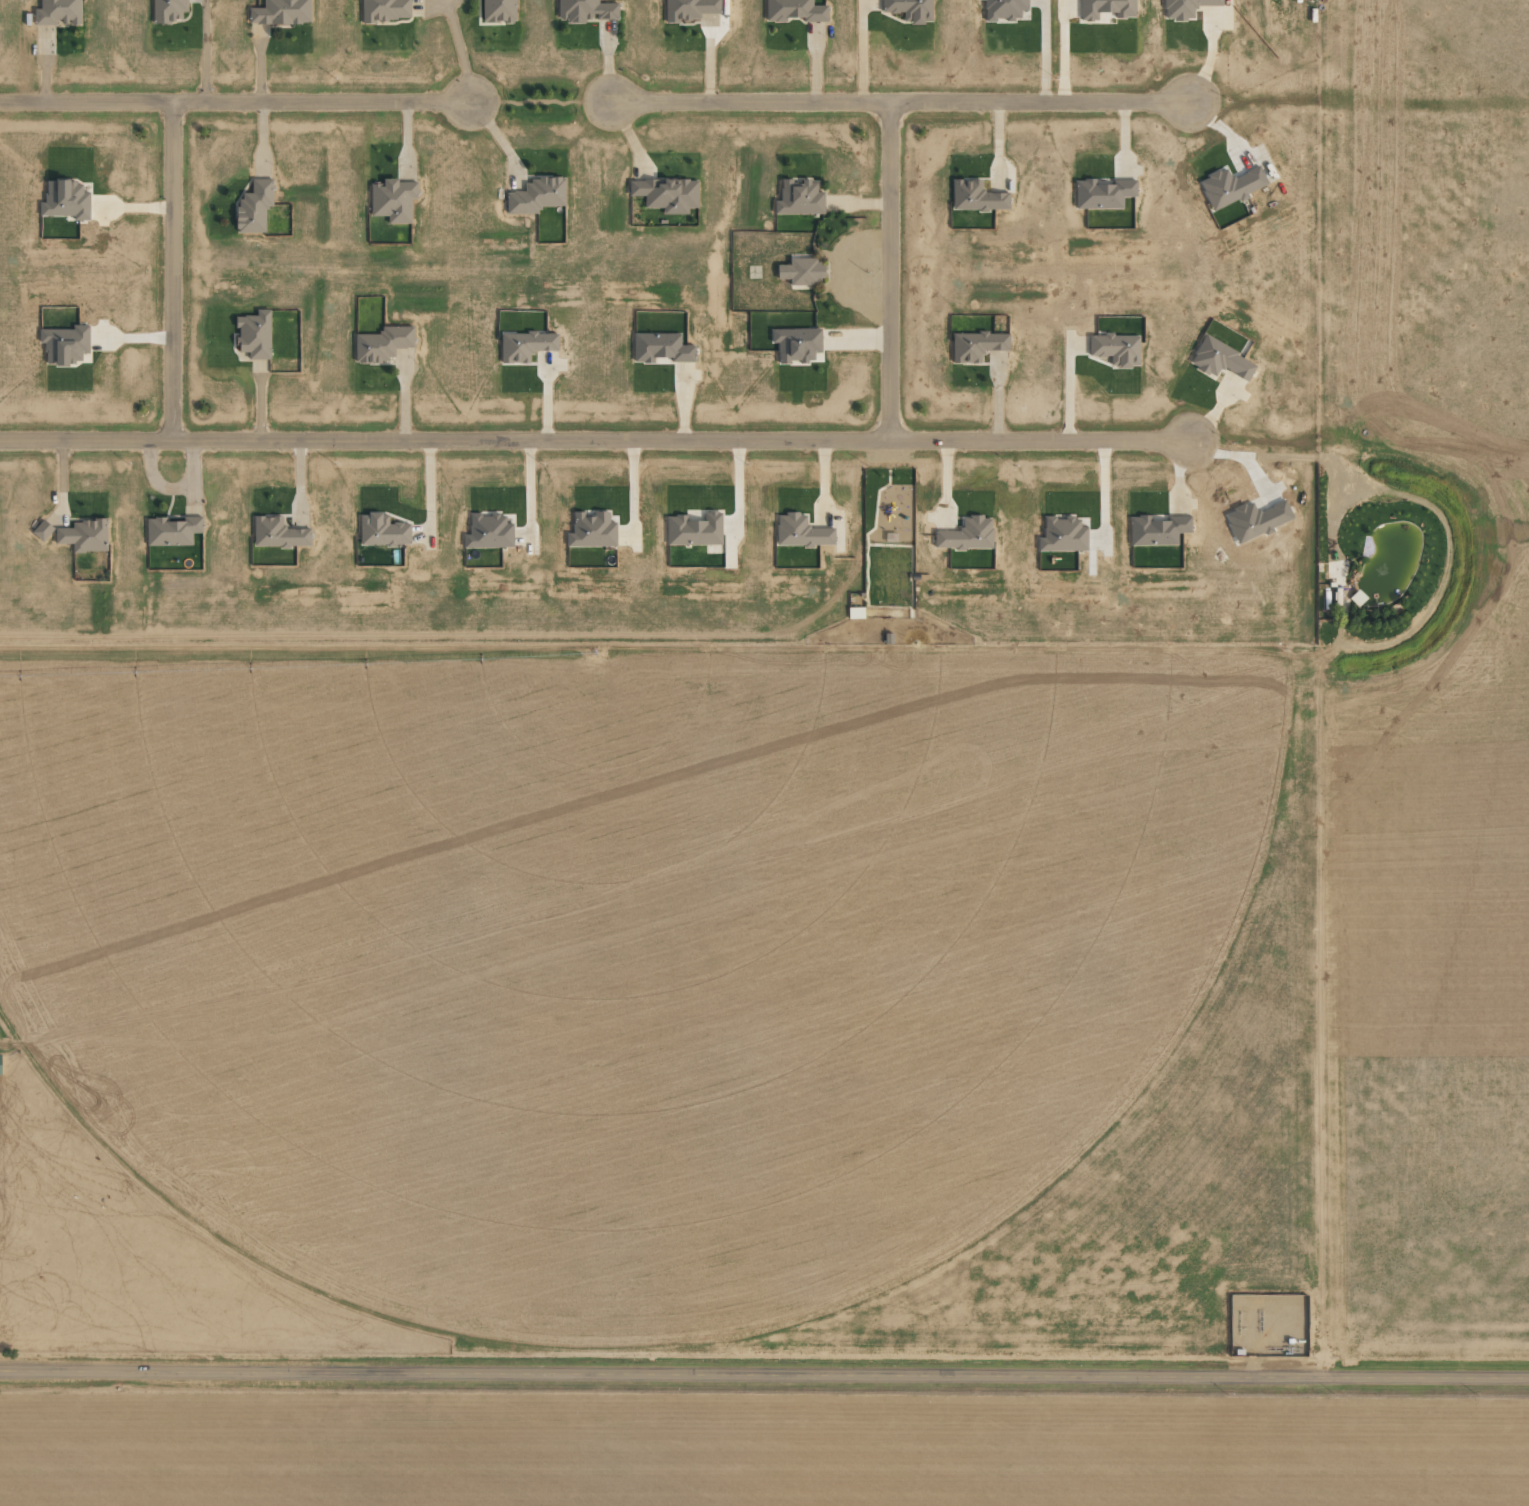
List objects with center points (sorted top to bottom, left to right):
building: (1106, 8)
building: (1185, 8)
building: (689, 9)
building: (909, 9)
building: (1004, 9)
building: (169, 10)
building: (386, 10)
building: (586, 10)
building: (795, 10)
building: (499, 11)
building: (58, 12)
building: (281, 12)
road: (896, 99)
road: (539, 101)
road: (236, 102)
building: (1103, 193)
building: (667, 194)
building: (536, 195)
building: (976, 197)
building: (799, 198)
building: (66, 200)
building: (393, 200)
building: (255, 206)
building: (802, 271)
road: (894, 272)
road: (166, 276)
building: (255, 335)
building: (383, 343)
building: (796, 344)
building: (66, 345)
building: (525, 345)
building: (976, 345)
building: (661, 348)
building: (1116, 349)
building: (1220, 359)
road: (597, 446)
building: (42, 530)
building: (382, 530)
building: (592, 530)
building: (694, 530)
building: (1157, 530)
building: (172, 531)
building: (489, 532)
building: (801, 532)
building: (279, 533)
building: (967, 534)
building: (84, 535)
building: (1063, 535)
road: (867, 543)
road: (764, 1373)

